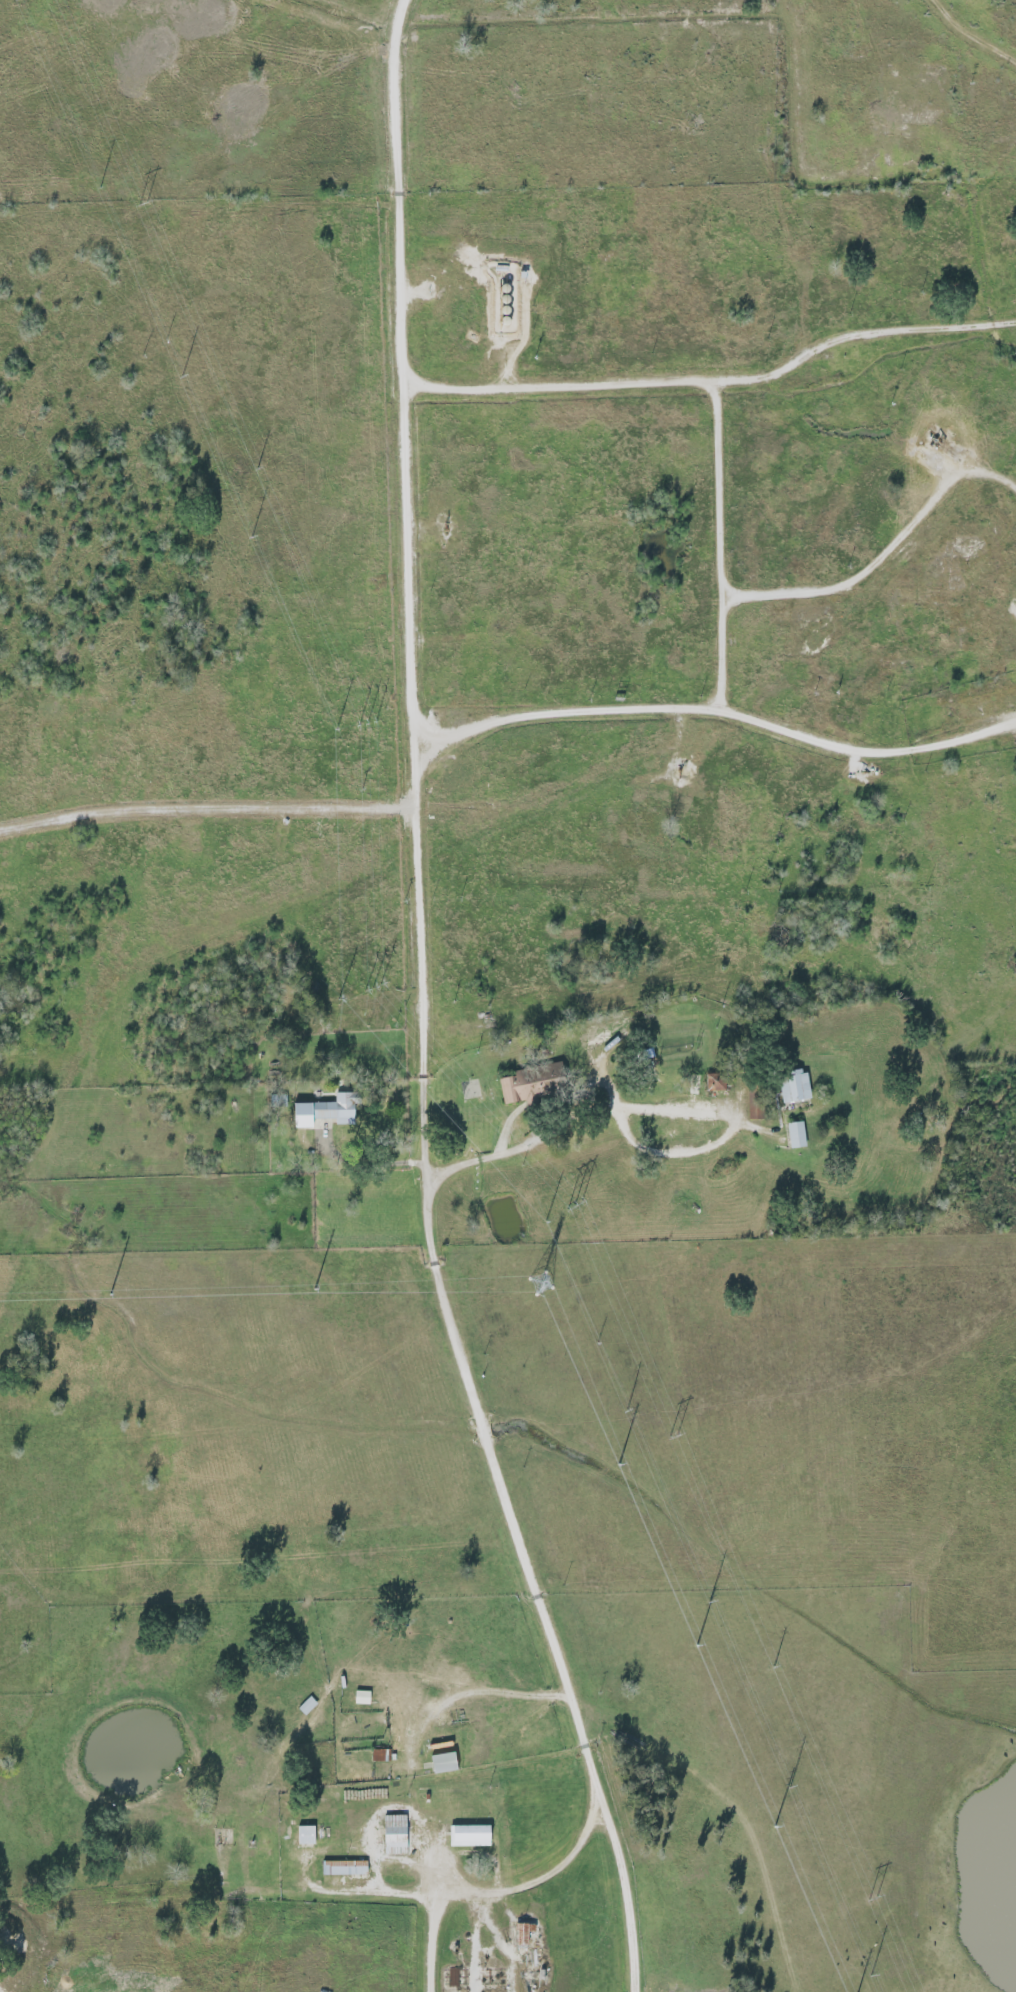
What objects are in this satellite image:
road: (971, 35)
power tower: (141, 203)
road: (716, 382)
road: (406, 426)
power tower: (257, 469)
road: (724, 548)
road: (883, 550)
road: (711, 712)
power tower: (367, 723)
road: (207, 812)
power tower: (372, 986)
building: (535, 1083)
building: (791, 1088)
road: (651, 1110)
building: (321, 1111)
building: (793, 1134)
power tower: (574, 1205)
power tower: (541, 1285)
road: (488, 1430)
power tower: (674, 1435)
power tower: (772, 1666)
road: (471, 1685)
building: (440, 1763)
building: (302, 1835)
building: (392, 1835)
building: (466, 1836)
building: (341, 1868)
road: (379, 1894)
power tower: (873, 1897)
building: (520, 1933)
road: (434, 1943)

